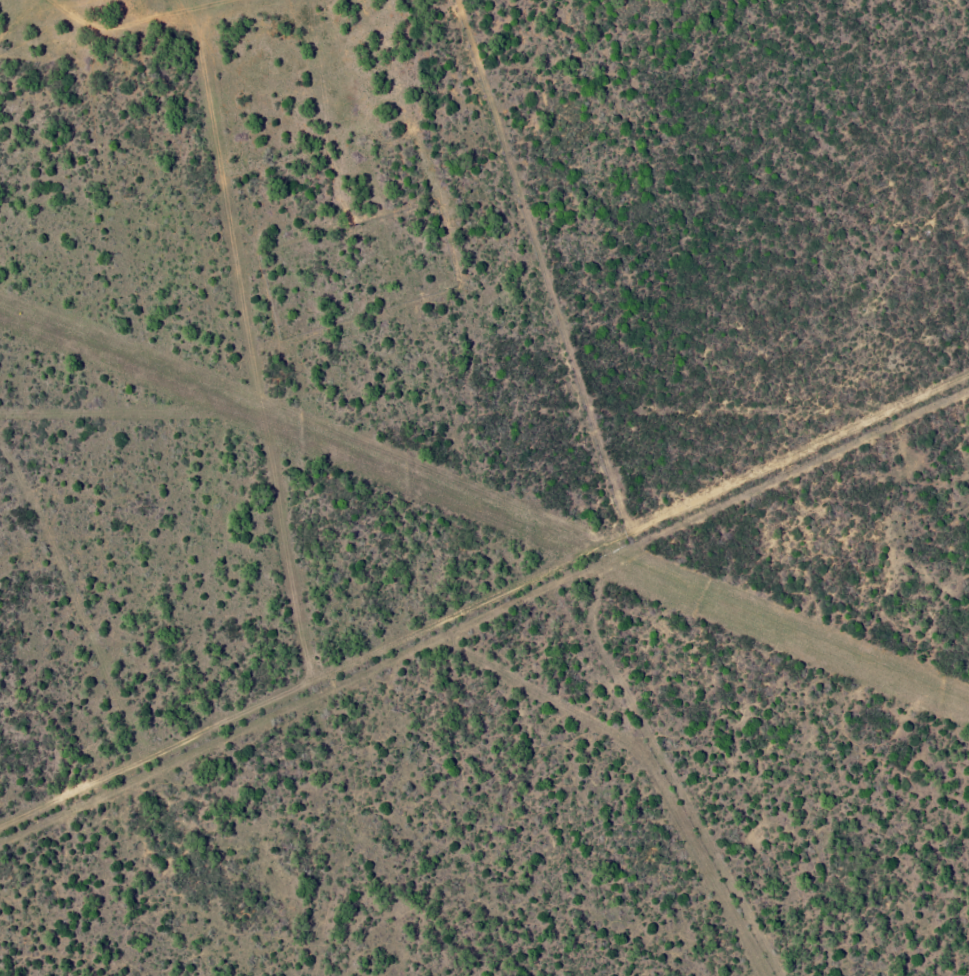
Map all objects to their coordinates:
road: (490, 665)

